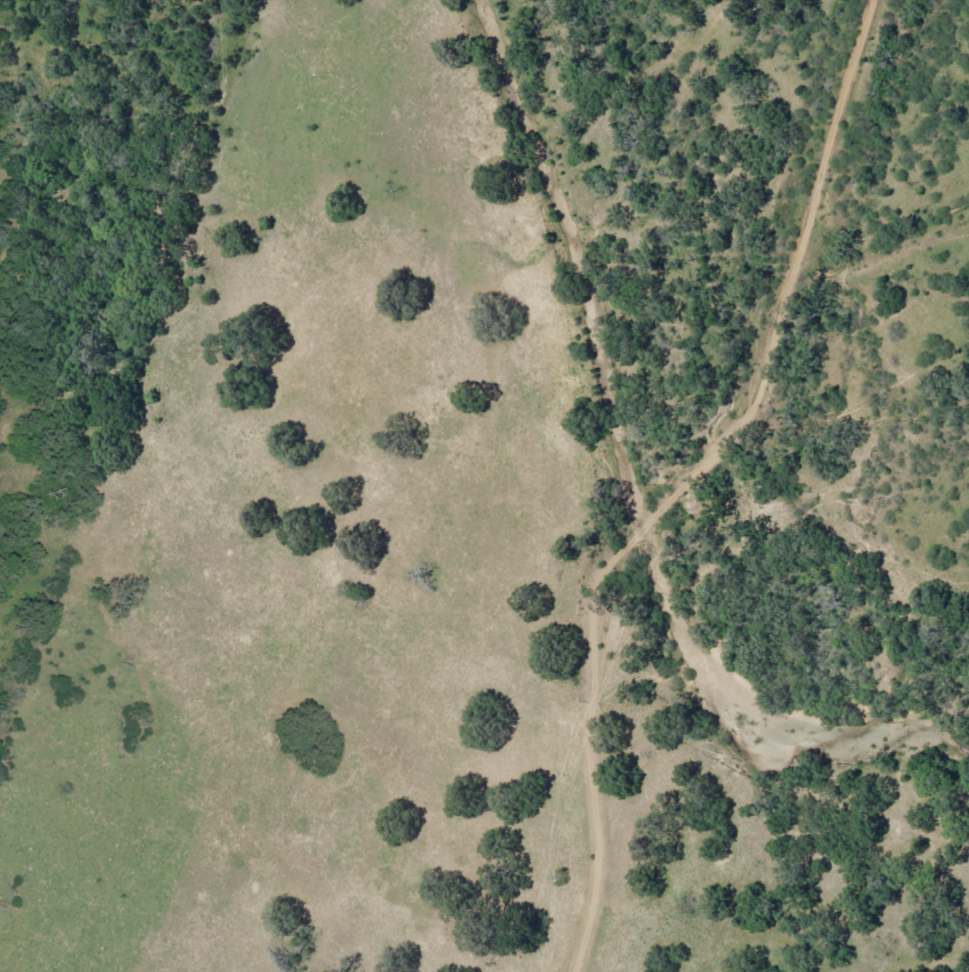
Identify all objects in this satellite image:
road: (428, 468)
road: (630, 472)

